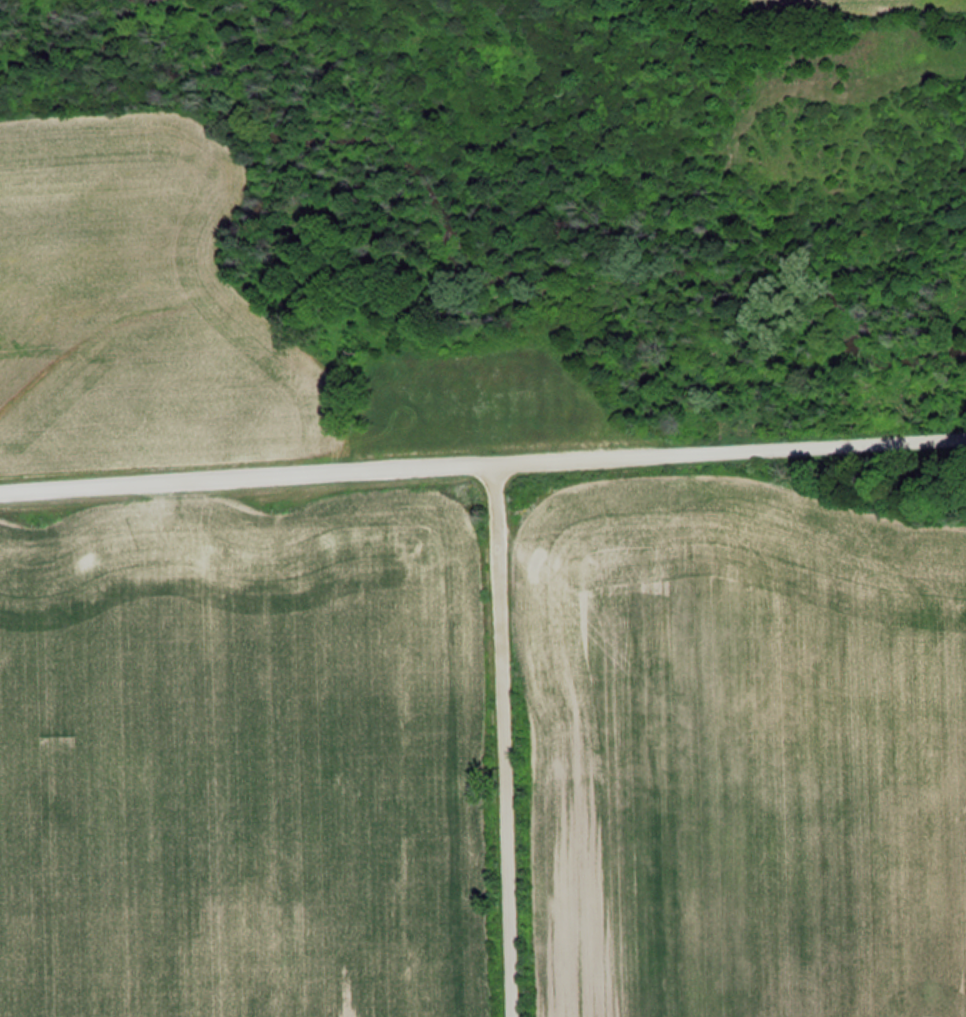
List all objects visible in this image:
road: (482, 456)
road: (495, 736)

